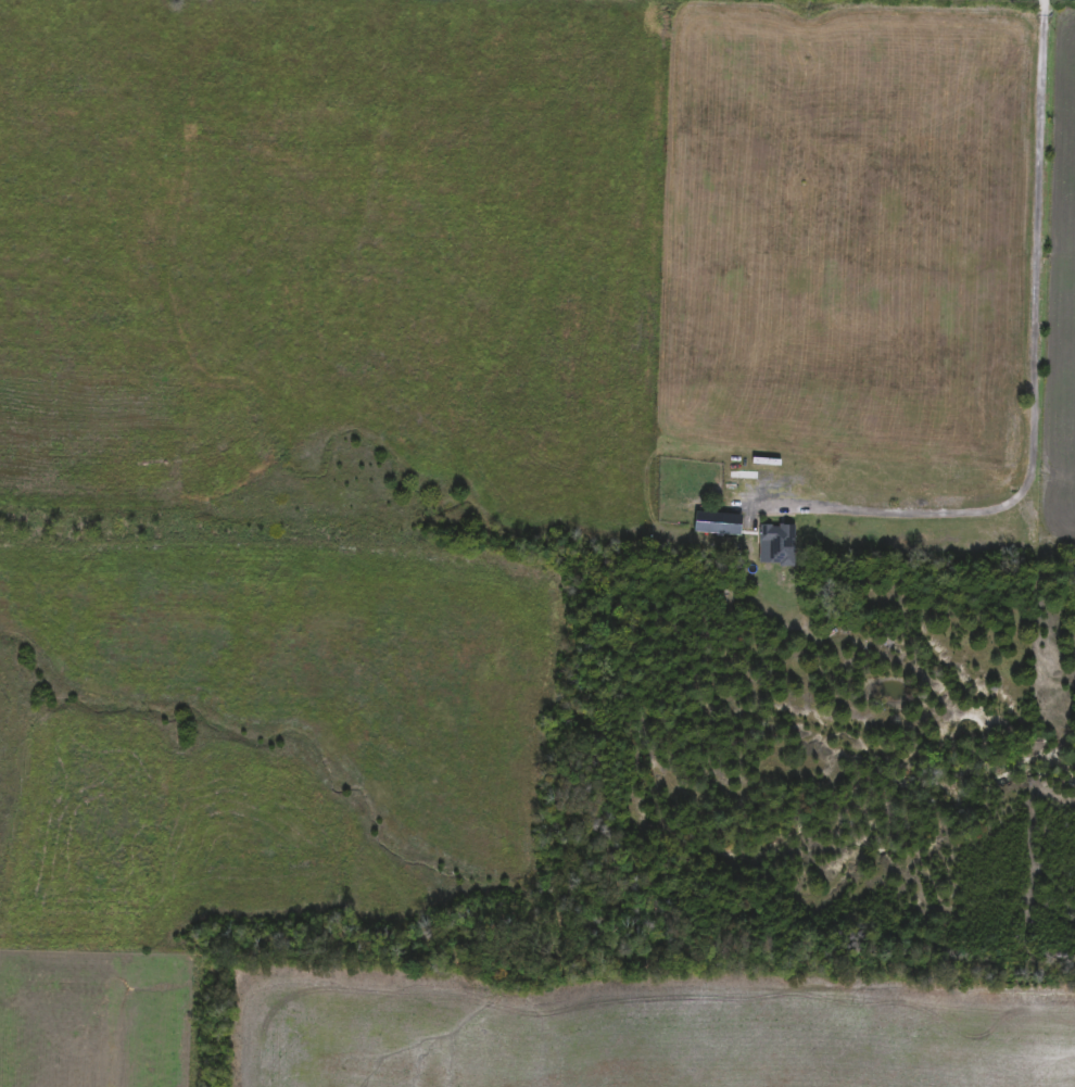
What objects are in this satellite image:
road: (1034, 381)
building: (777, 544)

